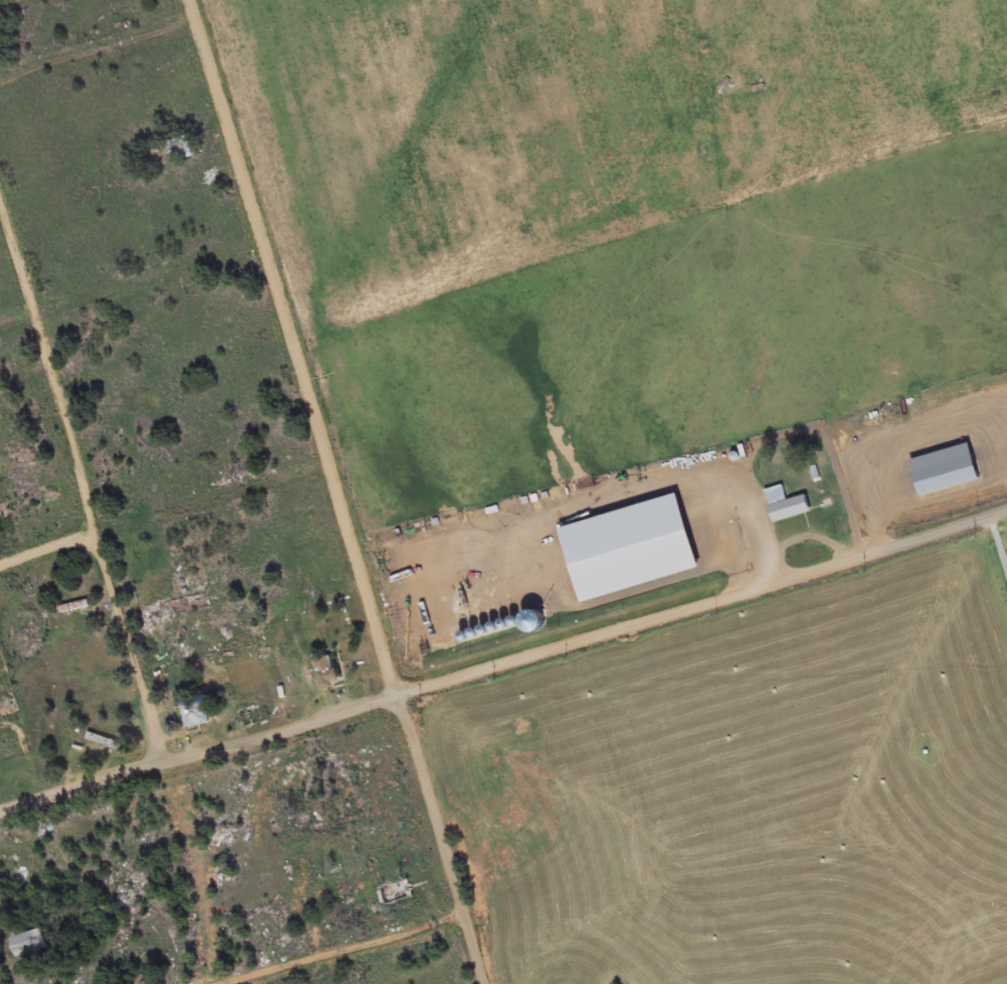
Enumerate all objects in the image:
road: (102, 55)
building: (181, 150)
road: (133, 284)
road: (296, 350)
building: (943, 472)
road: (84, 485)
building: (785, 507)
road: (164, 518)
road: (701, 600)
building: (326, 674)
building: (195, 715)
building: (104, 743)
road: (199, 759)
road: (441, 841)
building: (402, 892)
building: (28, 945)
road: (351, 958)

